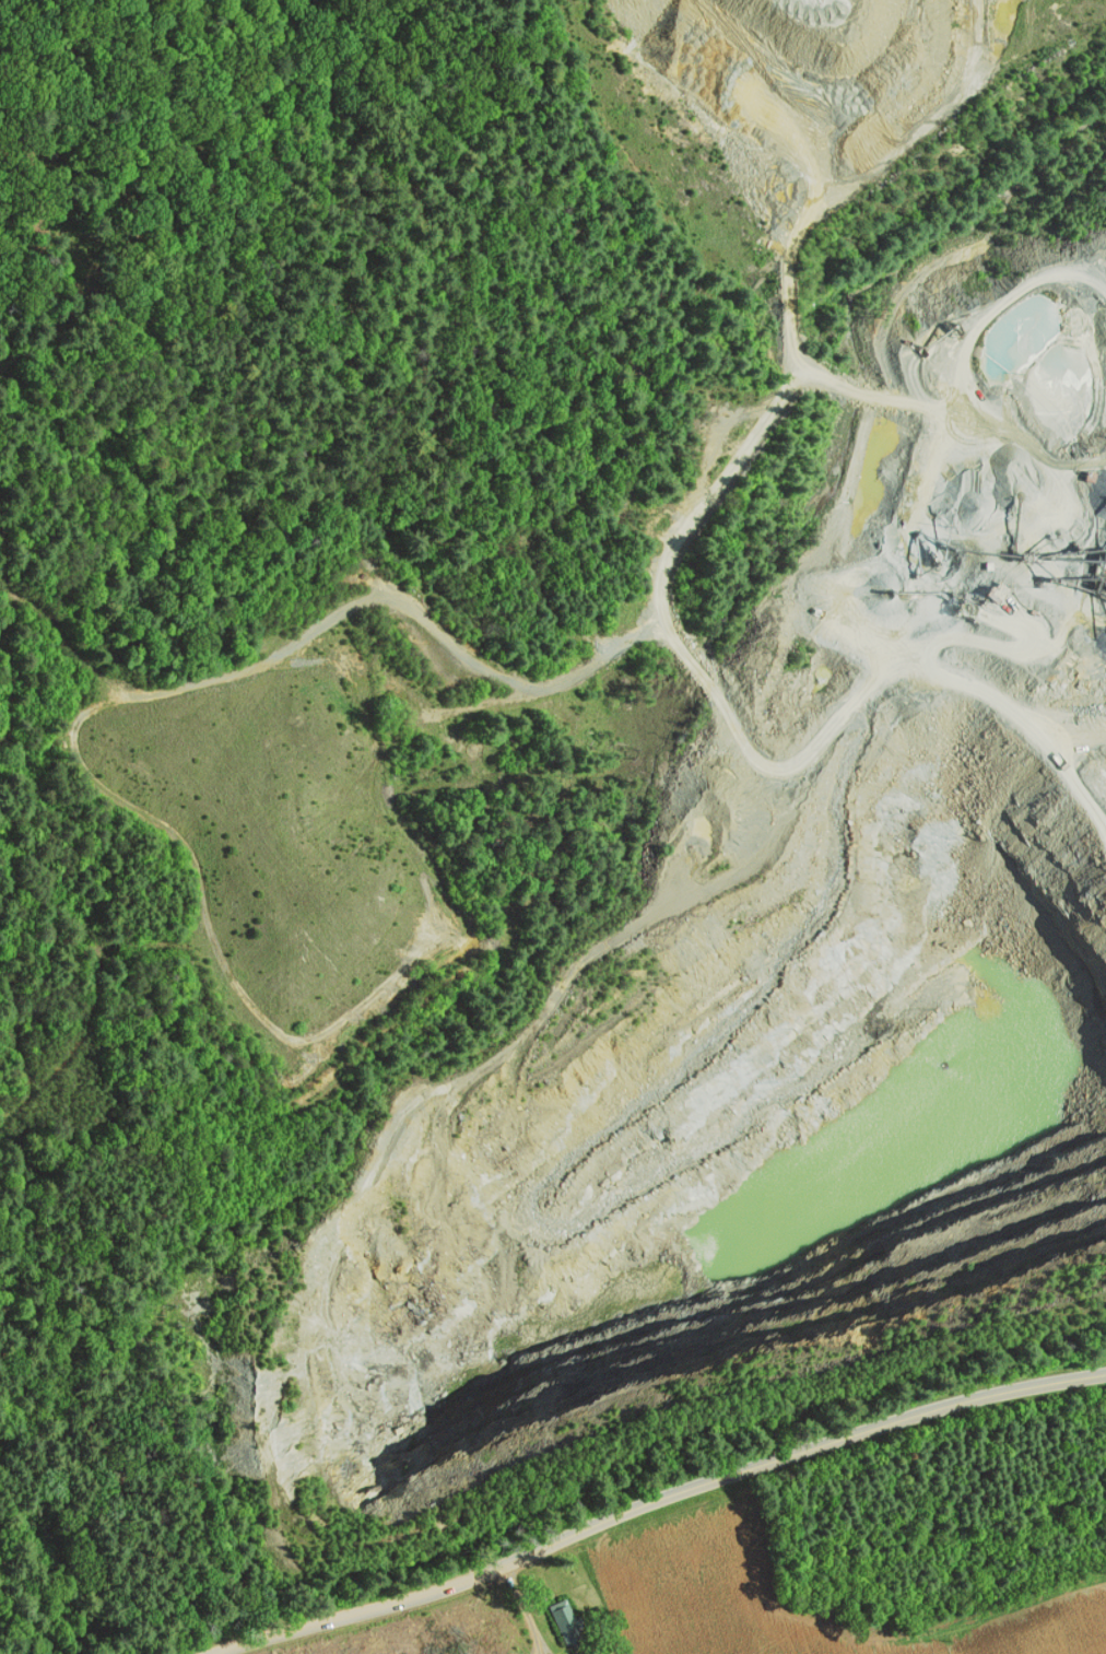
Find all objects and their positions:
quarry: (644, 930)
road: (658, 1501)
road: (525, 1610)

